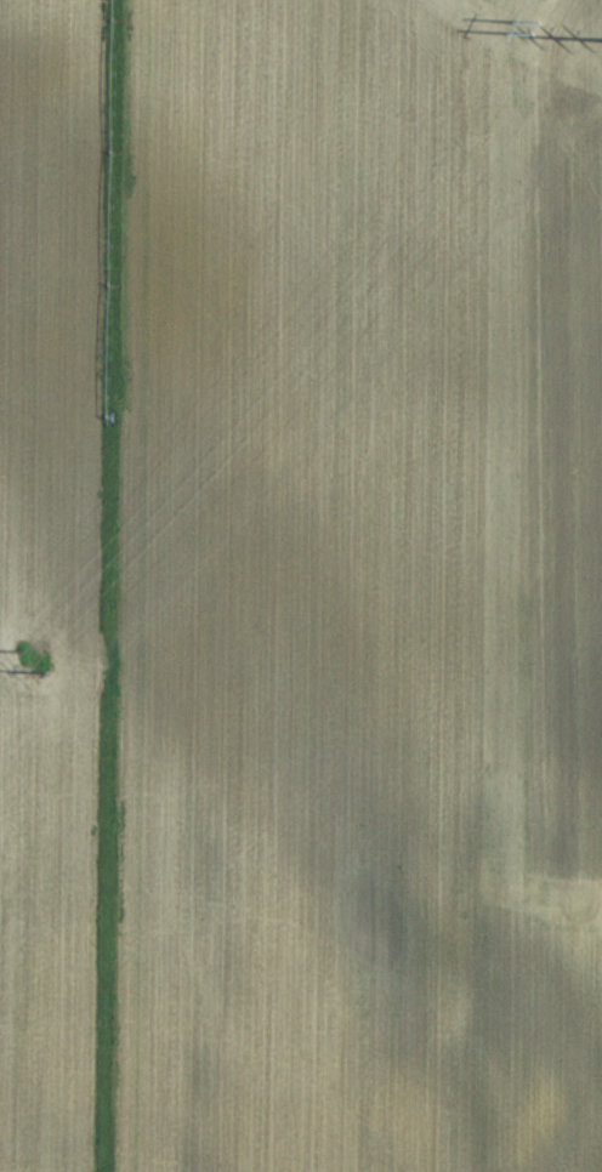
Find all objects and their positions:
power tower: (30, 658)

